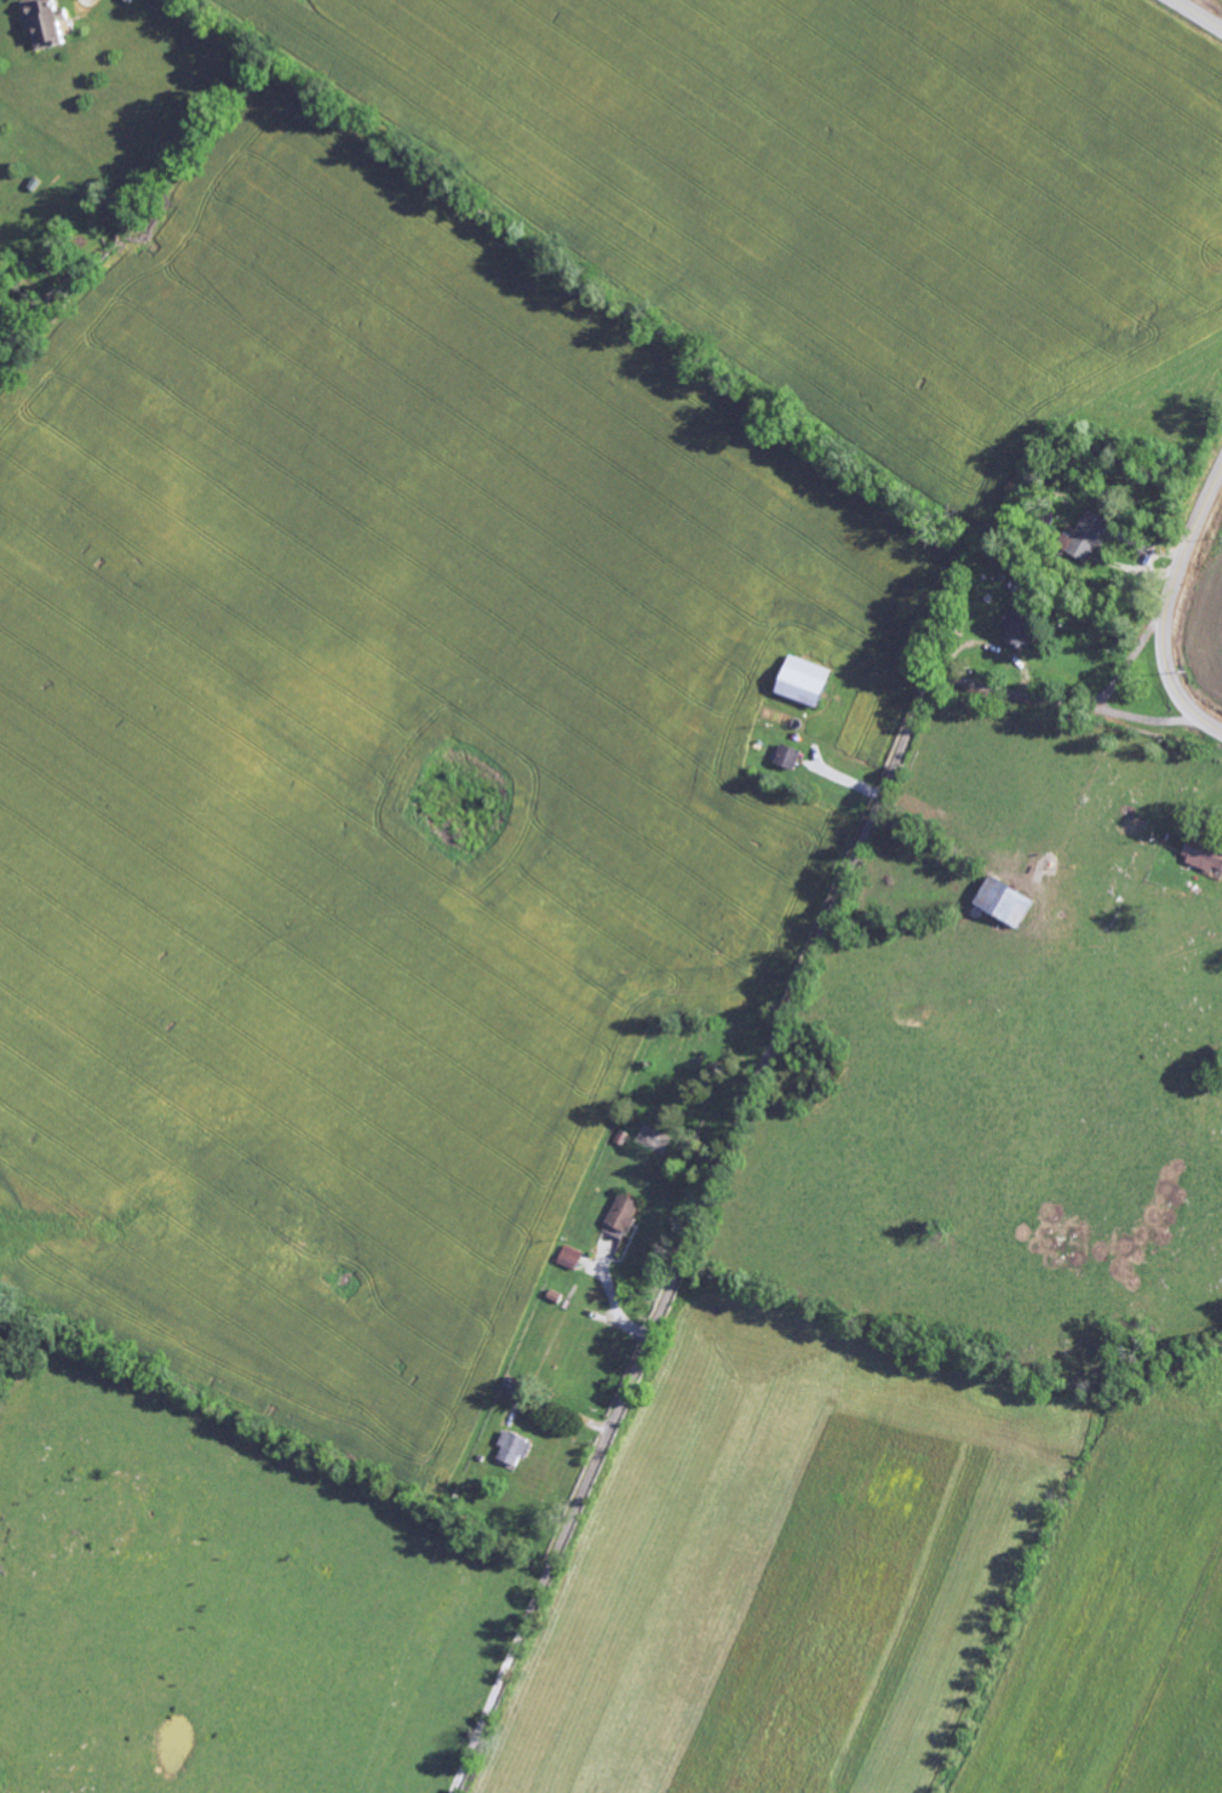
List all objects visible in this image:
road: (1195, 16)
building: (45, 24)
building: (1089, 535)
road: (1166, 605)
building: (1020, 631)
road: (1126, 664)
building: (807, 682)
building: (790, 758)
building: (1204, 857)
building: (1006, 903)
road: (747, 1110)
building: (625, 1214)
building: (572, 1258)
building: (516, 1449)

